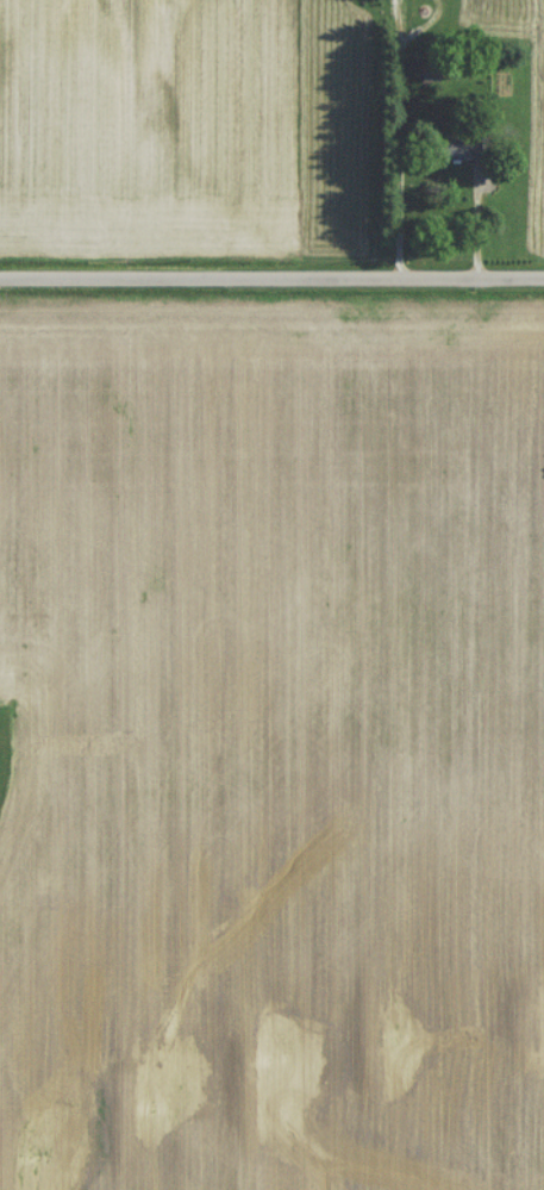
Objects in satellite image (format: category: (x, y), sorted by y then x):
building: (375, 1)
road: (395, 135)
building: (463, 155)
road: (271, 274)

